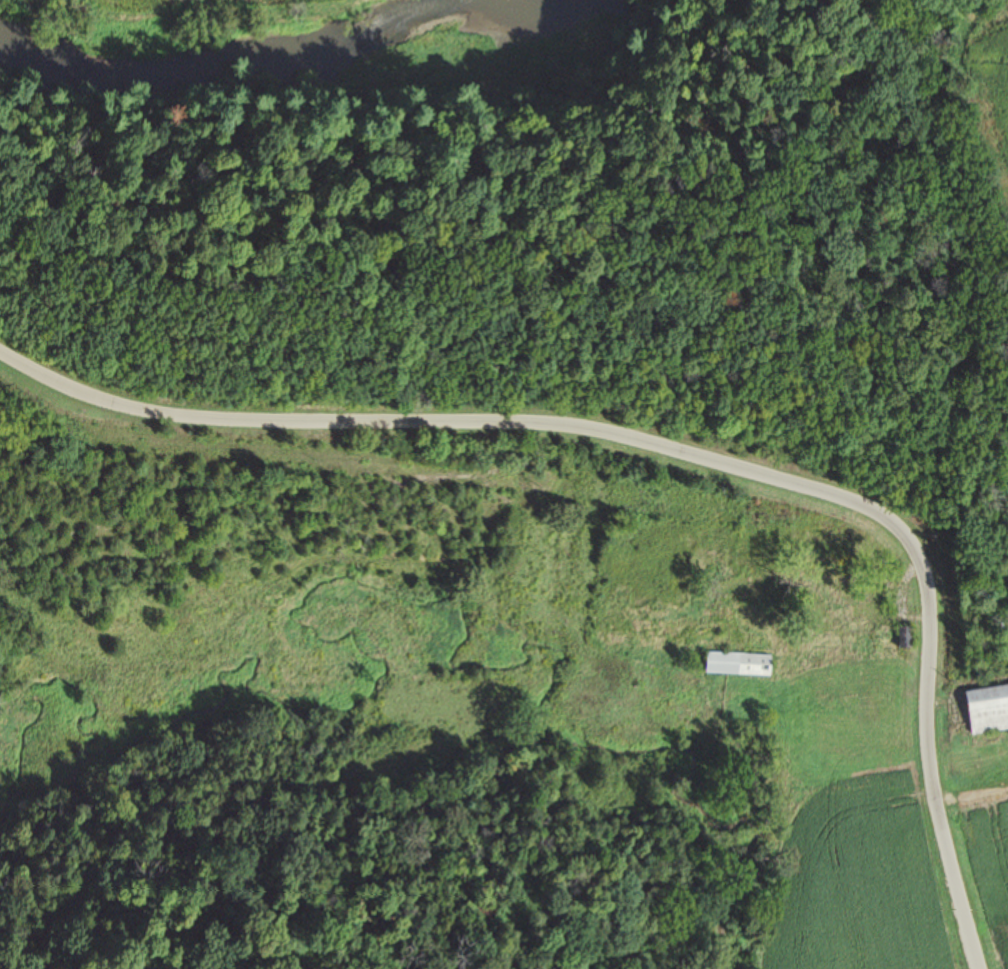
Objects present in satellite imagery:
river: (320, 73)
road: (551, 545)
building: (1002, 577)
building: (834, 604)
building: (904, 636)
building: (737, 663)
building: (823, 672)
building: (887, 693)
building: (987, 708)

